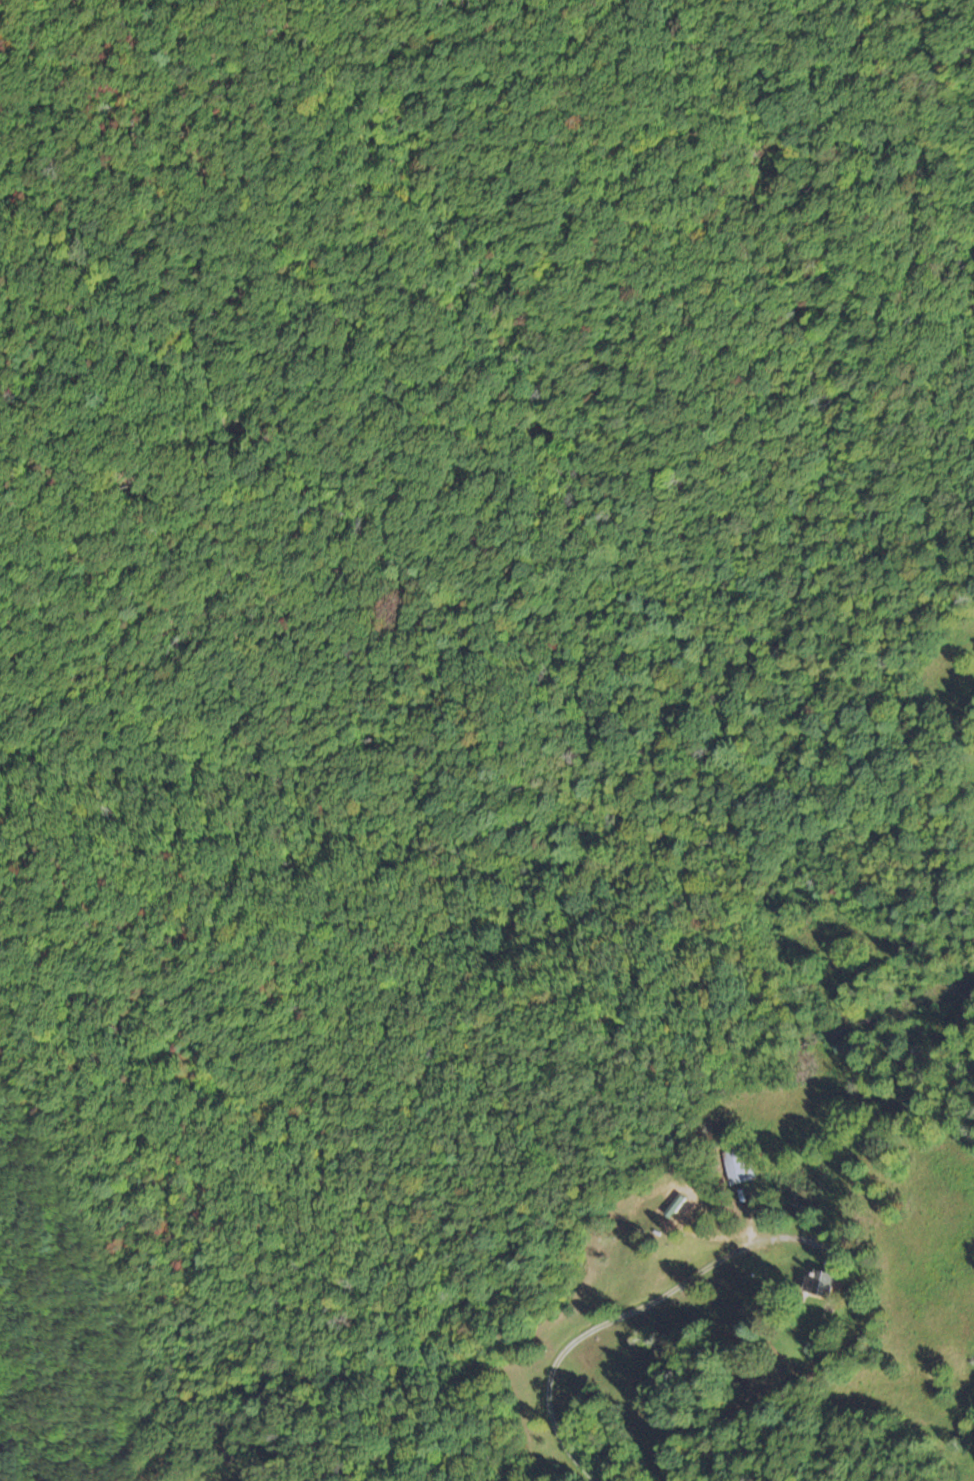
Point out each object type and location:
building: (817, 1285)

